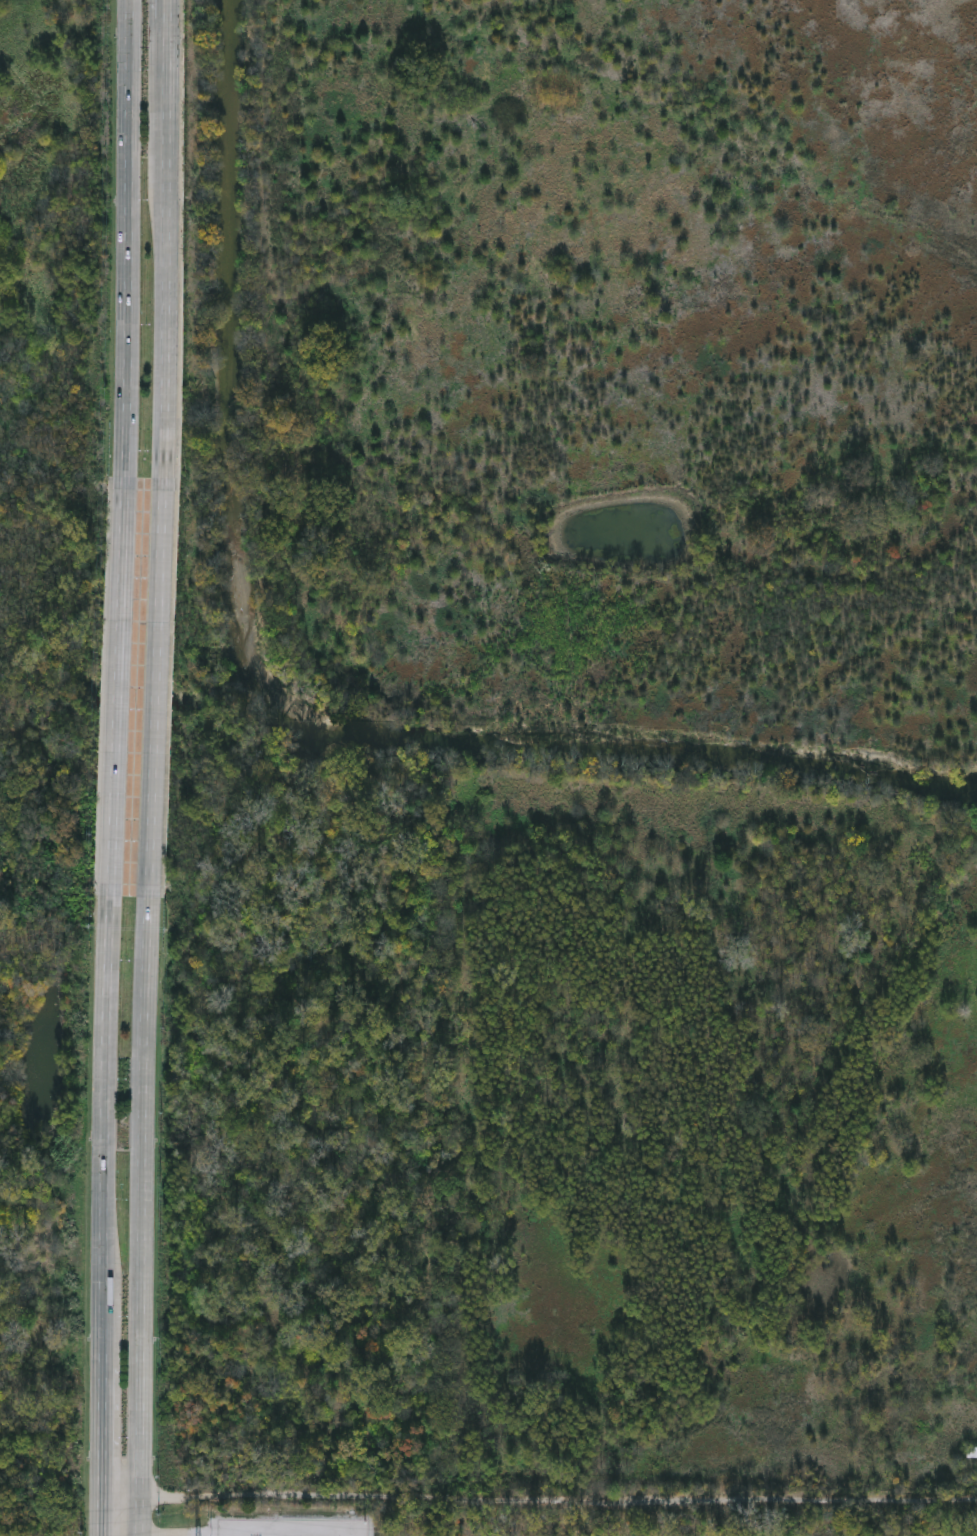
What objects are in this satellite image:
road: (170, 27)
road: (127, 245)
road: (167, 271)
road: (160, 692)
road: (119, 694)
road: (107, 1125)
road: (140, 1215)
road: (101, 1423)
building: (971, 1453)
road: (116, 1496)
road: (553, 1499)
road: (101, 1515)
power substation: (289, 1526)

